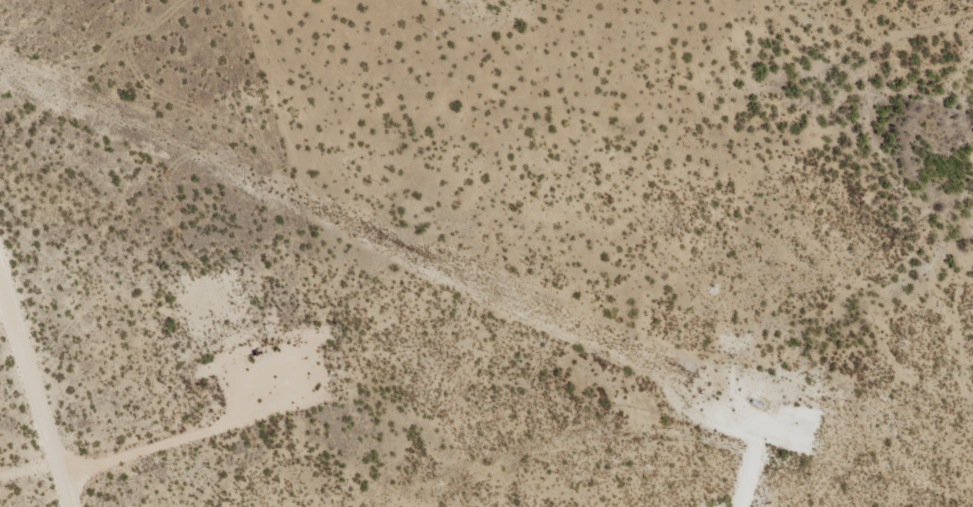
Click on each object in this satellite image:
road: (34, 399)

